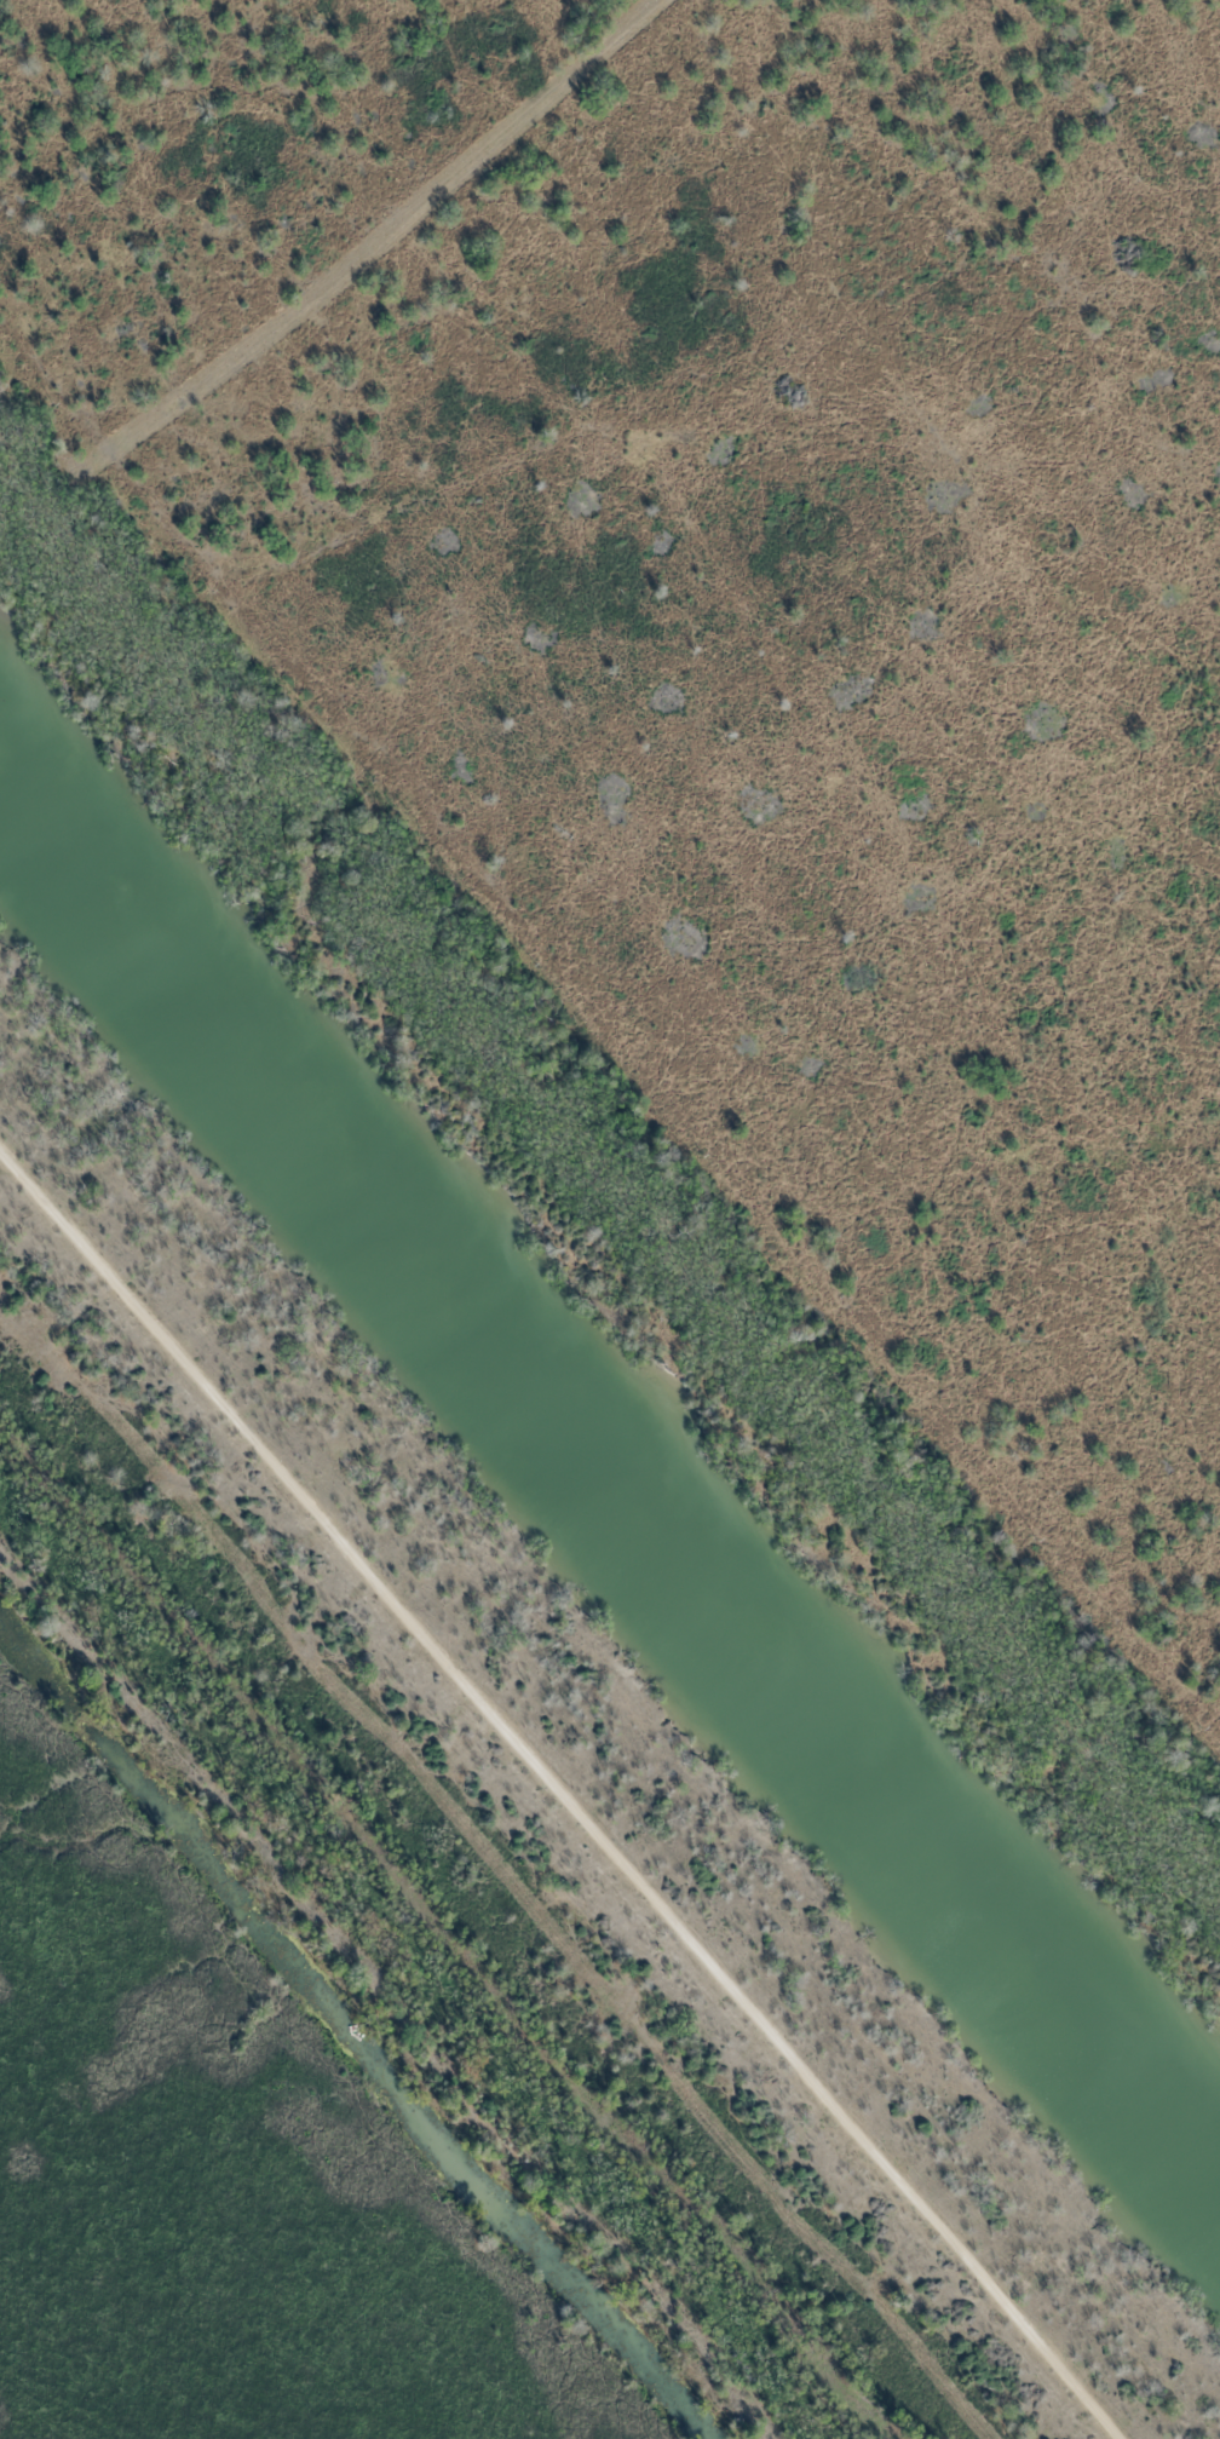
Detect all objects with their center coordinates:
road: (558, 1793)

